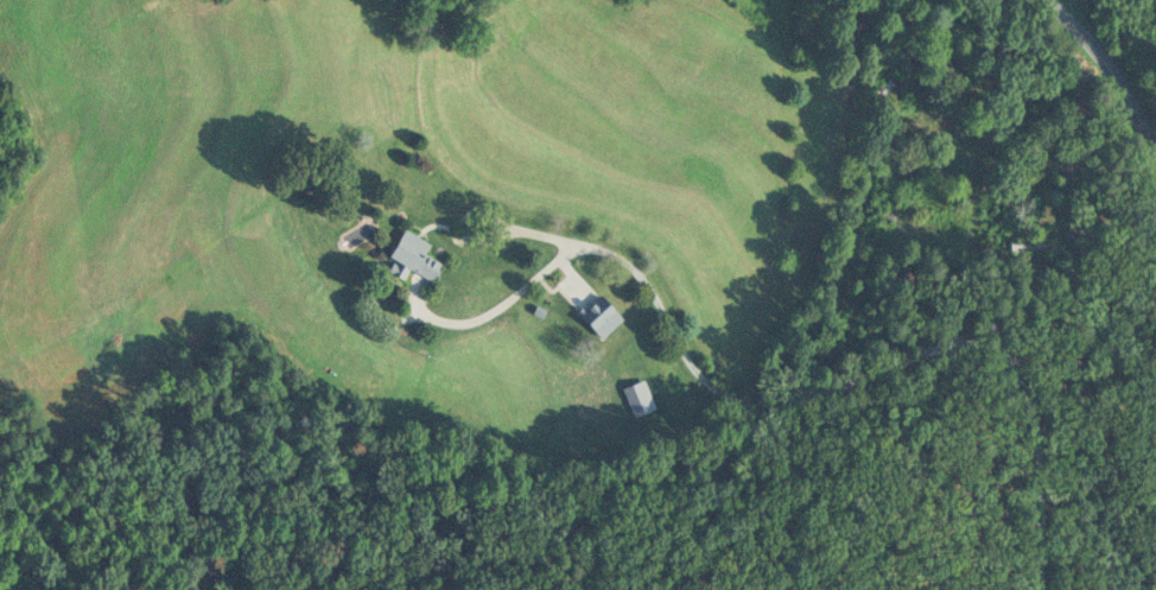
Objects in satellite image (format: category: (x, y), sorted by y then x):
road: (1111, 69)
building: (890, 89)
building: (1042, 141)
road: (458, 224)
building: (408, 255)
road: (852, 379)
building: (635, 396)

